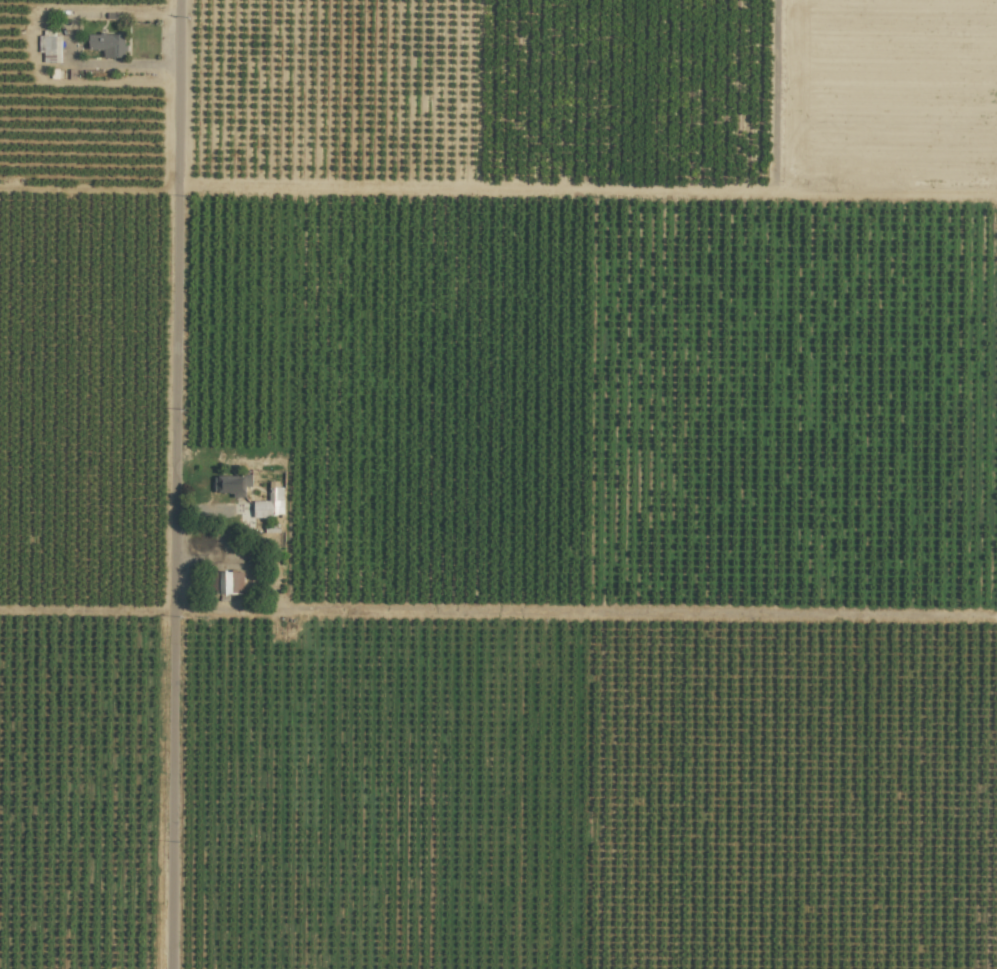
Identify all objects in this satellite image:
road: (30, 41)
building: (107, 44)
building: (50, 46)
road: (175, 484)
building: (232, 484)
building: (270, 501)
road: (253, 579)
building: (230, 582)

